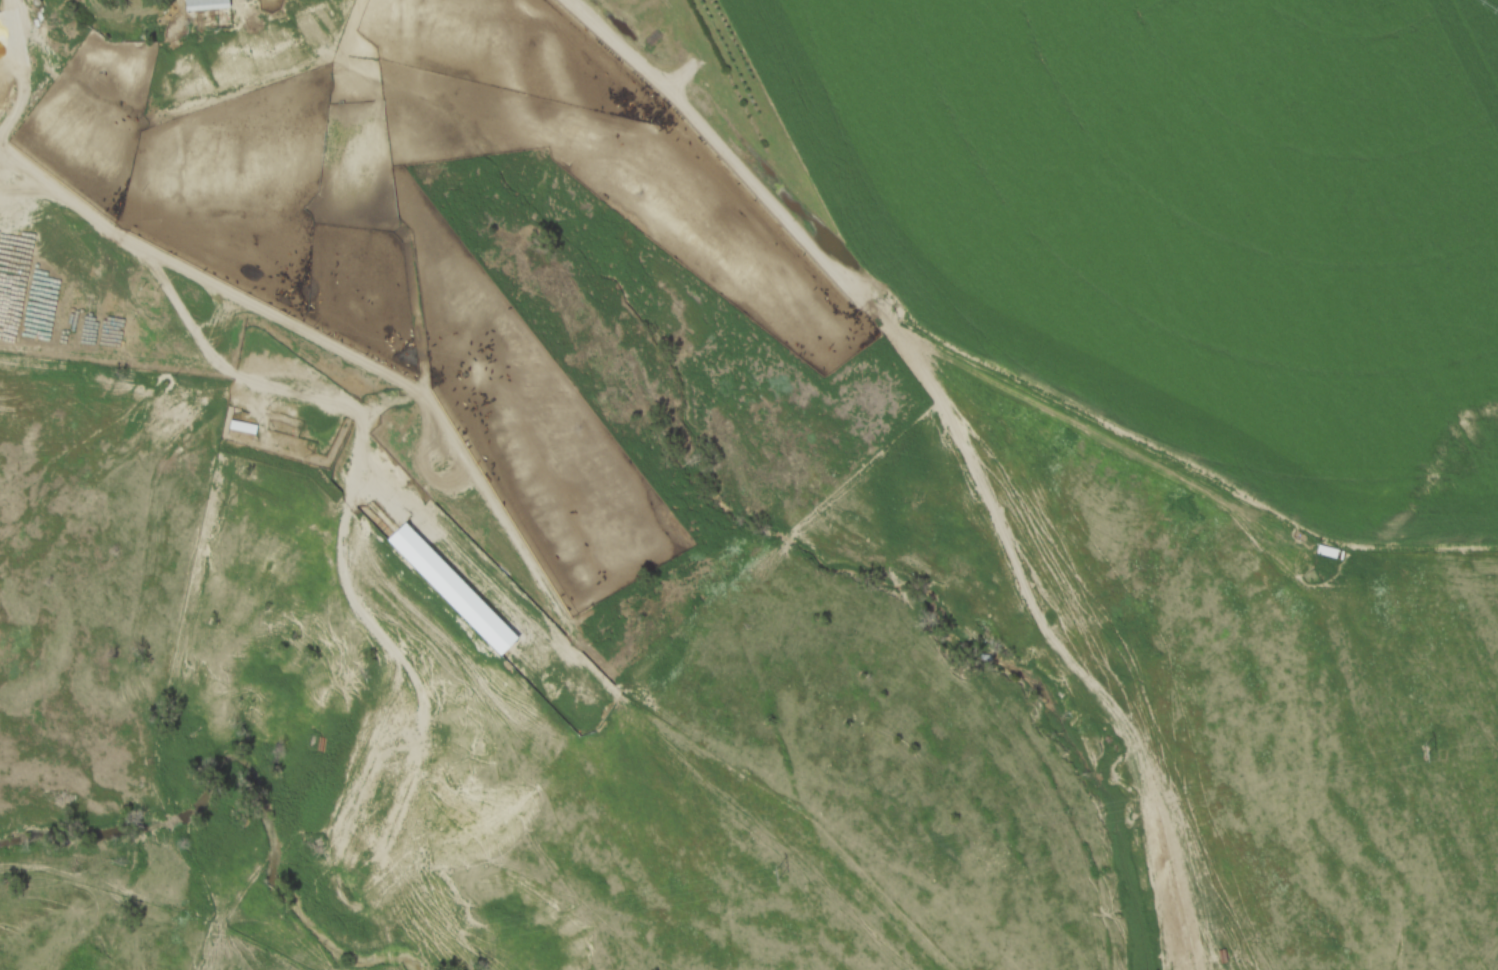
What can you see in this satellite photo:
building: (205, 5)
building: (1328, 551)
power tower: (1425, 751)
power tower: (776, 874)

